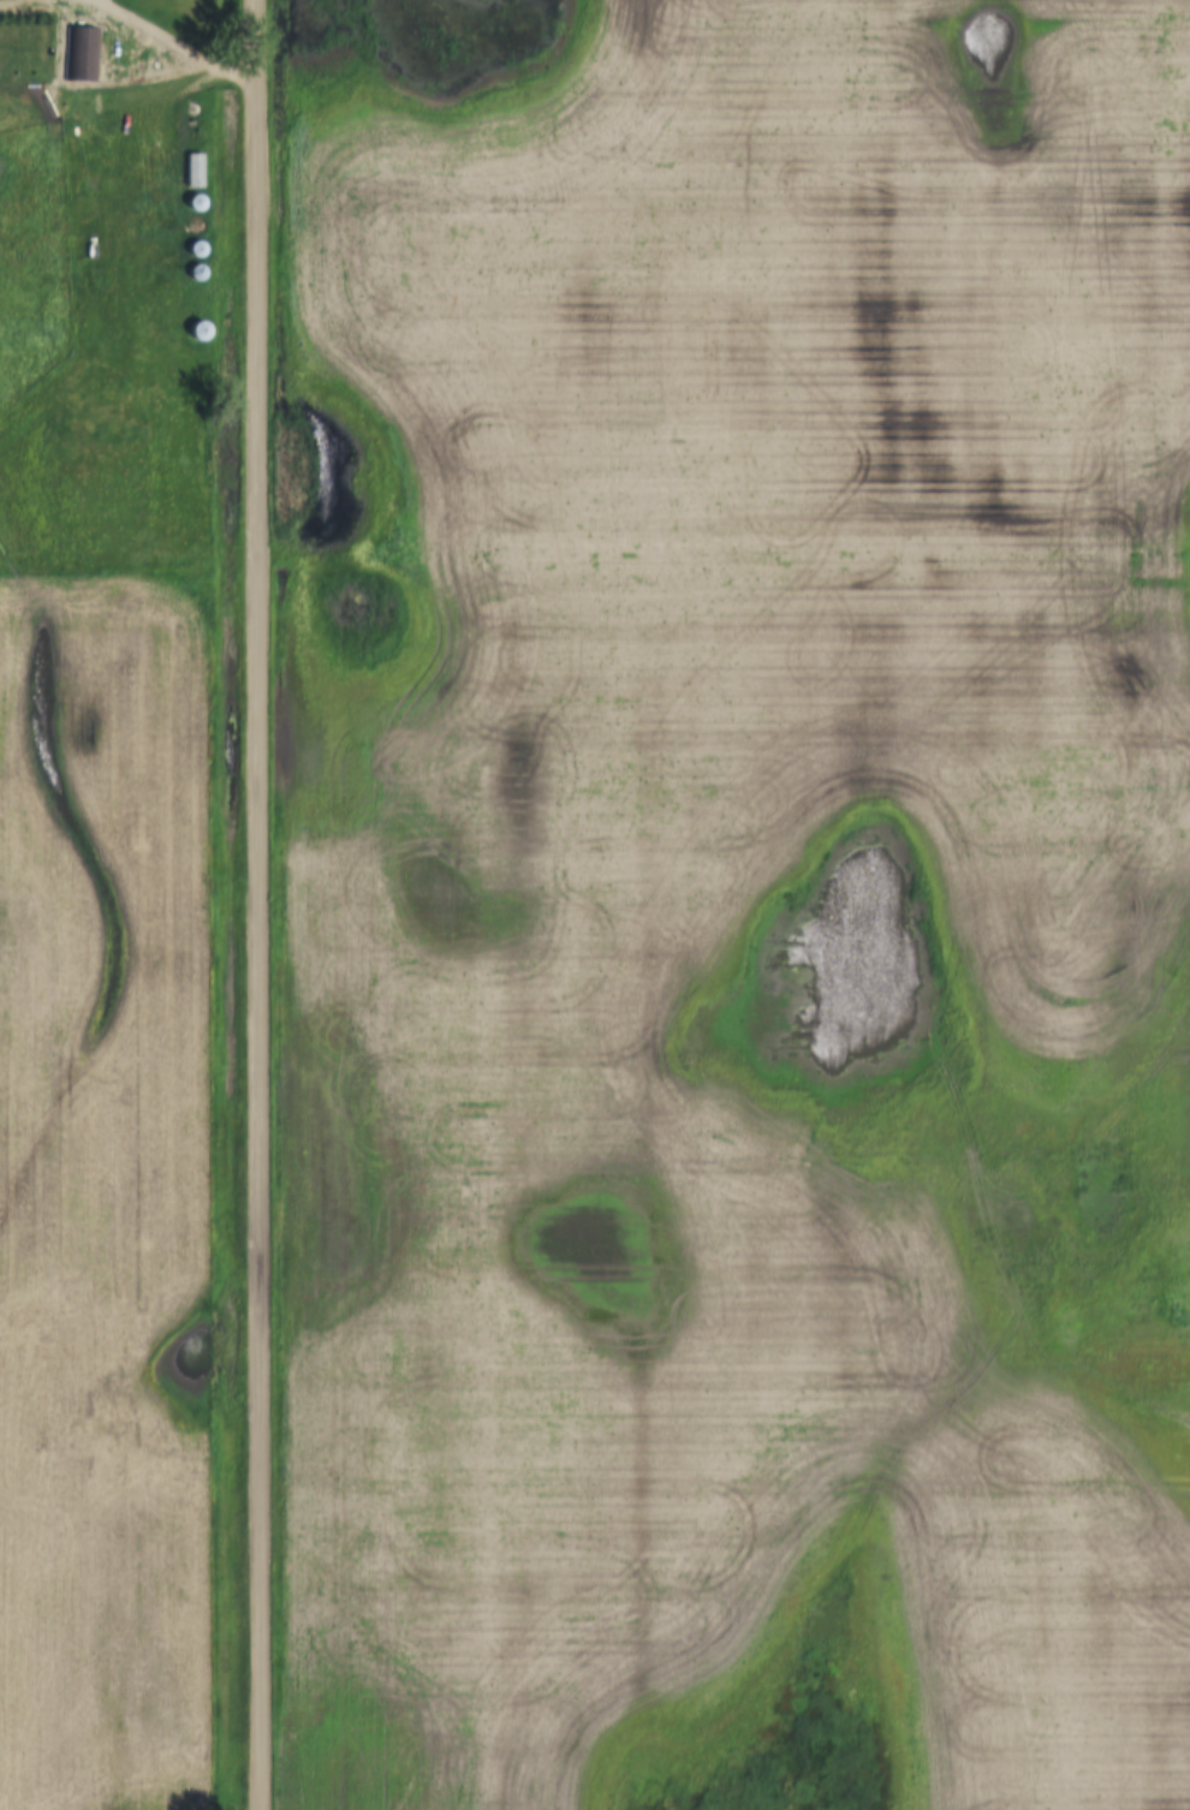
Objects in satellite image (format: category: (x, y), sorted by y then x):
road: (172, 44)
building: (79, 56)
building: (191, 172)
building: (191, 226)
building: (196, 332)
road: (256, 904)

